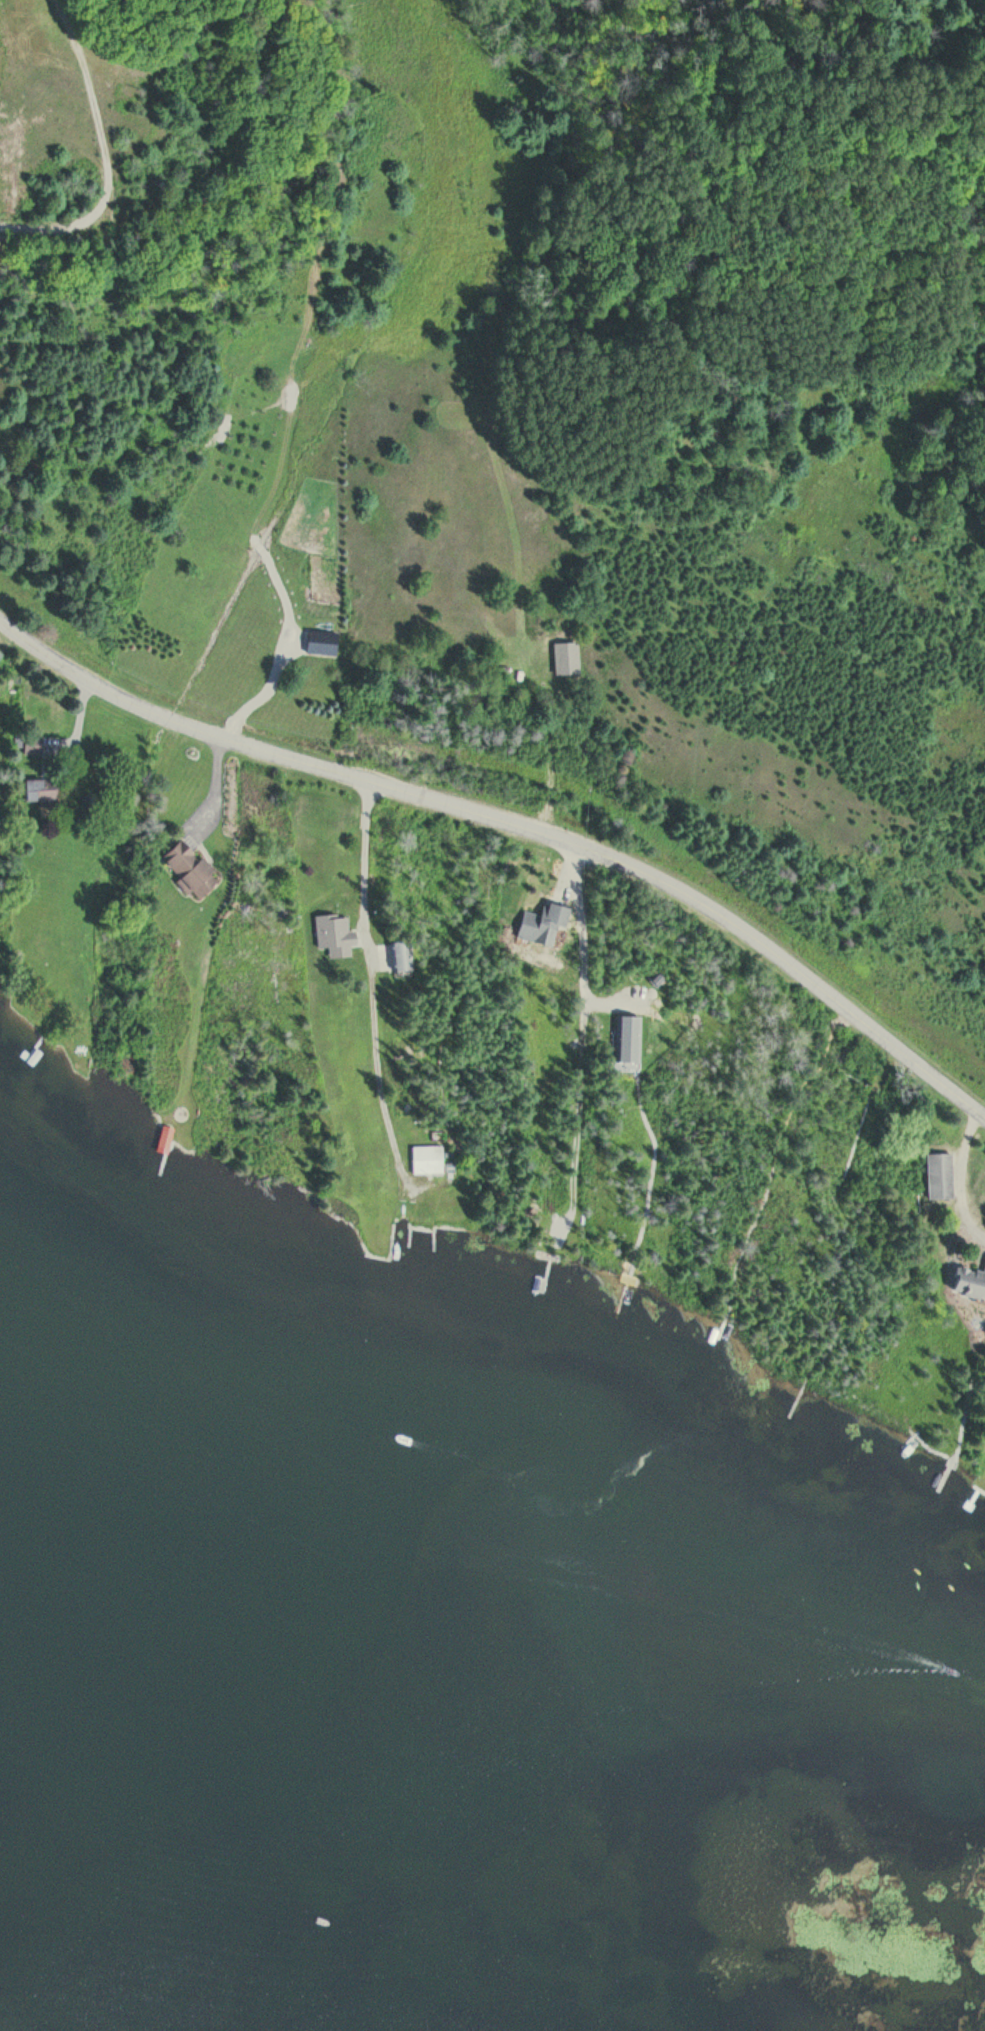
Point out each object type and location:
road: (82, 212)
building: (323, 644)
building: (0, 656)
building: (521, 674)
building: (33, 745)
building: (42, 791)
road: (514, 829)
building: (191, 870)
building: (544, 924)
building: (335, 936)
building: (401, 956)
road: (370, 990)
building: (629, 1038)
building: (166, 1136)
building: (428, 1160)
building: (940, 1176)
building: (970, 1283)

